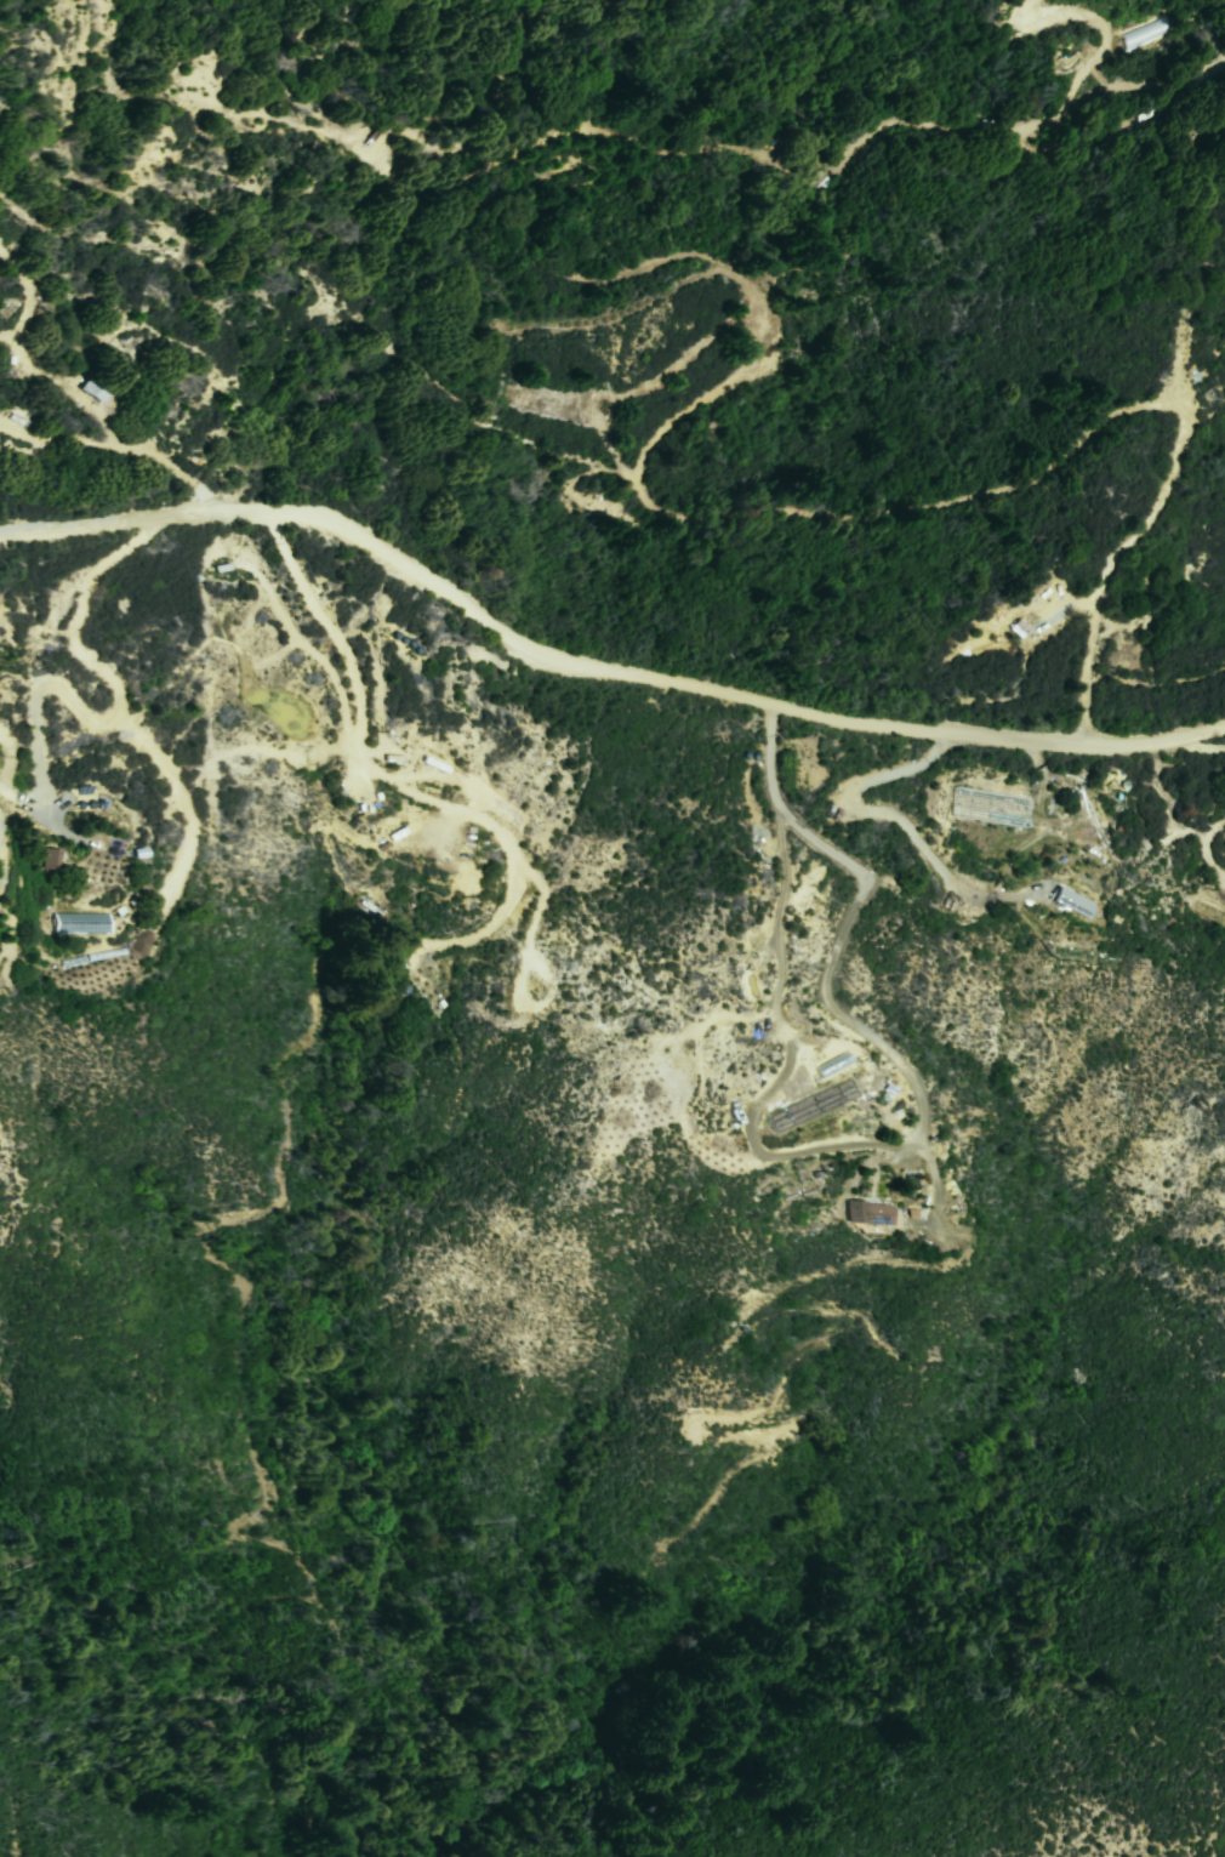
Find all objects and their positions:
road: (1093, 76)
road: (563, 135)
road: (126, 206)
road: (1180, 360)
building: (92, 393)
road: (118, 443)
road: (745, 517)
road: (334, 634)
road: (594, 672)
building: (987, 805)
road: (34, 810)
road: (905, 831)
road: (1210, 850)
building: (51, 860)
building: (1073, 902)
building: (78, 922)
road: (853, 925)
road: (777, 961)
building: (867, 1212)

